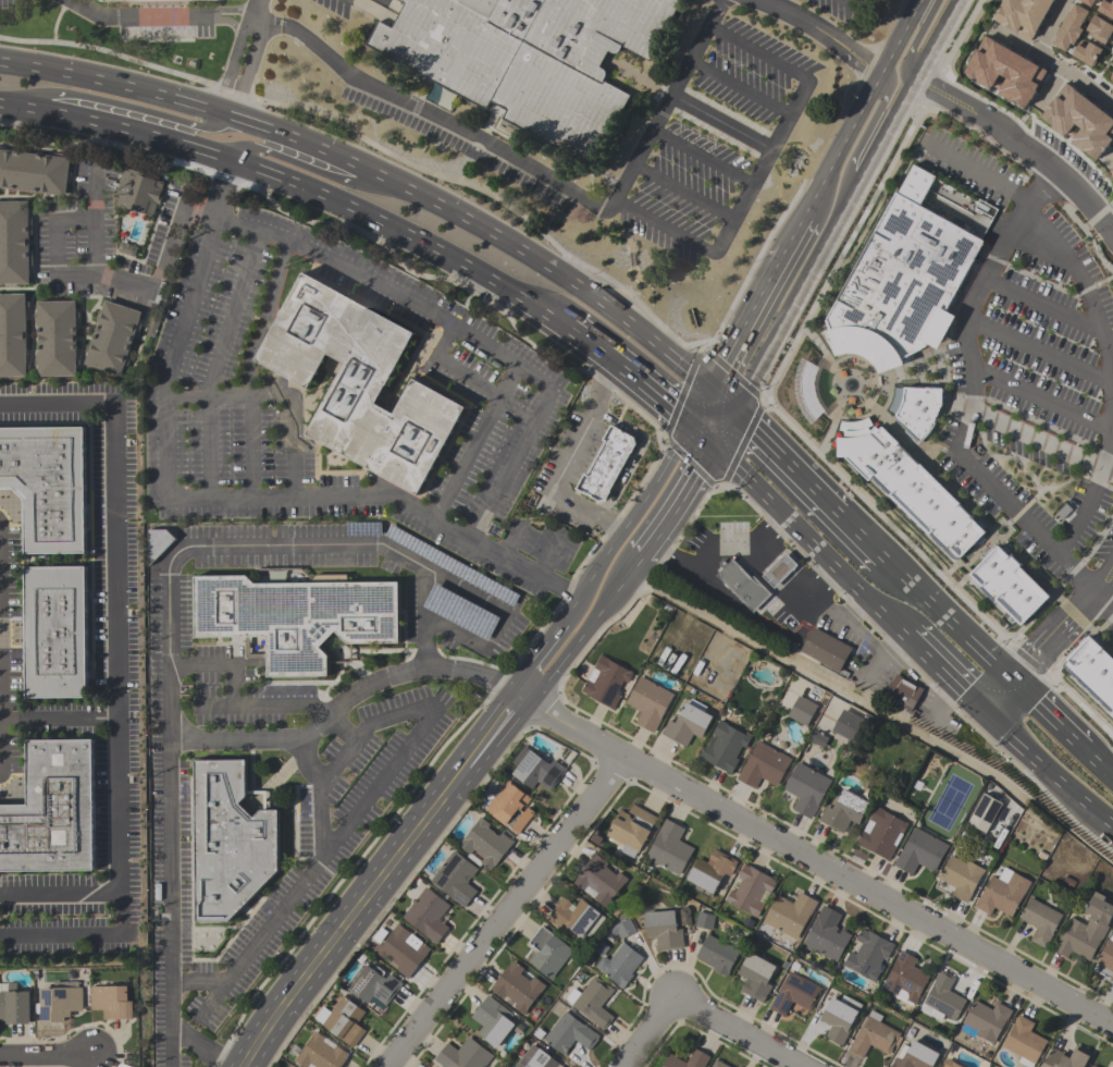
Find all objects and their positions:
building: (154, 1)
road: (851, 2)
road: (858, 2)
building: (1089, 2)
building: (1106, 8)
road: (230, 9)
road: (257, 9)
road: (784, 12)
building: (1023, 15)
road: (134, 16)
road: (226, 21)
road: (1050, 25)
road: (246, 26)
building: (1069, 27)
road: (35, 28)
building: (1100, 28)
road: (901, 34)
road: (916, 37)
road: (935, 39)
road: (848, 41)
road: (842, 53)
building: (1086, 53)
building: (527, 59)
road: (1054, 63)
road: (247, 66)
building: (1004, 71)
road: (227, 72)
building: (1111, 76)
road: (108, 81)
road: (1049, 85)
road: (122, 108)
road: (891, 115)
building: (1080, 120)
road: (721, 122)
road: (865, 132)
road: (843, 145)
road: (1022, 145)
road: (1110, 159)
road: (302, 167)
road: (764, 168)
building: (1112, 171)
building: (34, 172)
road: (535, 172)
road: (978, 174)
road: (295, 182)
road: (221, 188)
building: (138, 193)
road: (477, 223)
road: (794, 236)
building: (14, 244)
building: (906, 272)
road: (90, 278)
road: (801, 281)
road: (1085, 281)
road: (1044, 308)
road: (233, 312)
road: (747, 319)
road: (461, 328)
building: (12, 335)
building: (57, 339)
building: (112, 339)
building: (866, 346)
road: (1040, 349)
road: (172, 356)
road: (452, 366)
road: (629, 372)
fountain: (848, 383)
building: (360, 385)
traffic signals: (709, 389)
building: (806, 390)
road: (277, 394)
road: (970, 397)
road: (719, 400)
road: (1041, 400)
road: (55, 403)
road: (701, 405)
traffic signals: (730, 410)
building: (918, 410)
traffic signals: (692, 421)
road: (721, 427)
road: (703, 432)
road: (1041, 439)
road: (475, 441)
traffic signals: (714, 443)
road: (1110, 443)
road: (251, 446)
road: (208, 447)
road: (564, 463)
road: (781, 463)
building: (606, 465)
building: (47, 486)
building: (907, 486)
road: (385, 494)
road: (678, 501)
road: (1085, 511)
building: (1063, 514)
road: (627, 522)
road: (856, 538)
road: (811, 539)
building: (158, 543)
road: (721, 544)
building: (452, 566)
road: (886, 569)
building: (779, 571)
building: (276, 577)
building: (1009, 585)
building: (744, 586)
road: (1103, 599)
road: (489, 602)
road: (815, 610)
building: (460, 612)
building: (297, 617)
road: (421, 617)
road: (753, 617)
road: (945, 625)
road: (585, 633)
building: (55, 634)
road: (1046, 635)
building: (826, 650)
road: (885, 657)
road: (535, 658)
road: (116, 664)
road: (223, 664)
building: (1092, 670)
road: (942, 671)
building: (605, 683)
building: (903, 694)
road: (939, 696)
road: (347, 698)
building: (648, 703)
road: (171, 706)
road: (264, 706)
building: (802, 711)
road: (1039, 713)
road: (59, 719)
road: (391, 719)
building: (687, 725)
building: (846, 725)
road: (0, 728)
building: (818, 738)
building: (724, 747)
building: (763, 765)
road: (1043, 765)
road: (1095, 766)
road: (336, 769)
building: (536, 770)
building: (806, 789)
building: (510, 808)
building: (843, 811)
building: (52, 812)
building: (984, 813)
road: (320, 817)
building: (239, 831)
building: (631, 831)
building: (881, 834)
building: (484, 845)
building: (669, 848)
building: (919, 853)
road: (317, 861)
road: (816, 862)
building: (710, 872)
building: (961, 878)
building: (455, 879)
road: (380, 880)
building: (598, 881)
road: (61, 891)
building: (751, 892)
building: (1002, 894)
road: (505, 912)
building: (789, 915)
building: (428, 916)
building: (573, 917)
building: (704, 921)
building: (1040, 921)
building: (622, 929)
building: (663, 931)
building: (1086, 931)
building: (827, 935)
road: (65, 936)
building: (401, 952)
building: (548, 953)
building: (719, 954)
building: (868, 955)
building: (1106, 956)
building: (620, 966)
building: (755, 978)
building: (1111, 978)
building: (904, 980)
road: (197, 985)
building: (373, 988)
building: (517, 988)
building: (794, 995)
building: (943, 998)
building: (61, 1002)
building: (592, 1002)
building: (113, 1003)
building: (14, 1006)
road: (698, 1009)
building: (839, 1018)
building: (987, 1020)
building: (492, 1021)
building: (342, 1022)
building: (569, 1034)
building: (874, 1037)
building: (1024, 1042)
building: (320, 1054)
road: (46, 1056)
building: (463, 1056)
building: (914, 1056)
building: (535, 1058)
building: (698, 1058)
building: (1065, 1059)
building: (717, 1064)
building: (950, 1064)
building: (1092, 1066)
building: (1112, 1066)

